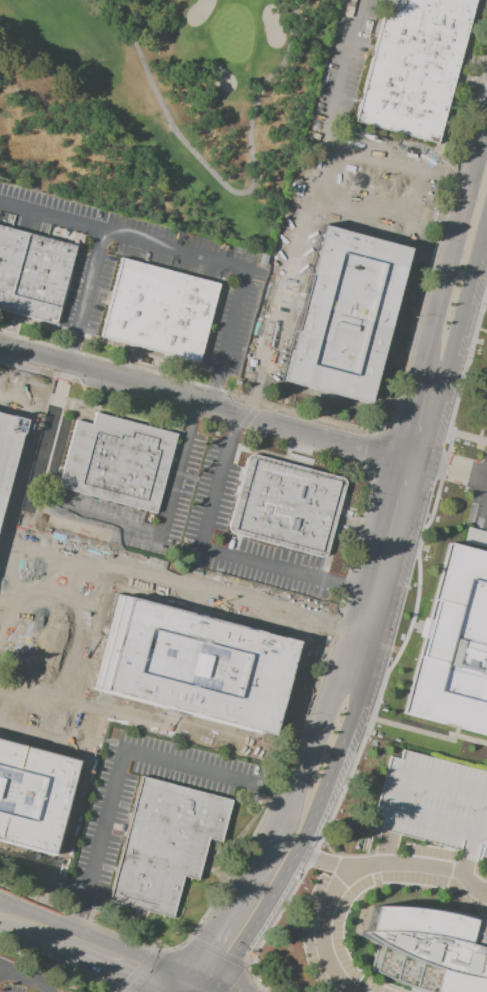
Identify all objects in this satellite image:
road: (419, 9)
road: (355, 11)
road: (449, 24)
road: (464, 54)
road: (391, 60)
building: (413, 66)
road: (380, 101)
park: (162, 106)
road: (368, 146)
road: (316, 172)
road: (228, 189)
road: (439, 232)
road: (191, 254)
building: (32, 274)
road: (458, 286)
building: (158, 310)
building: (345, 319)
road: (64, 366)
road: (205, 402)
building: (486, 424)
road: (418, 425)
road: (419, 427)
building: (486, 429)
building: (8, 447)
road: (375, 450)
building: (117, 463)
road: (461, 472)
road: (403, 487)
building: (285, 505)
road: (162, 535)
road: (220, 551)
road: (14, 554)
road: (78, 577)
building: (64, 590)
road: (224, 596)
road: (364, 639)
building: (454, 647)
building: (193, 665)
road: (310, 689)
road: (121, 752)
road: (449, 782)
building: (32, 793)
road: (311, 796)
building: (435, 803)
parking lot: (435, 803)
road: (435, 821)
building: (165, 844)
road: (385, 851)
road: (321, 861)
road: (426, 866)
road: (464, 869)
road: (246, 915)
road: (77, 917)
road: (322, 928)
road: (38, 930)
building: (428, 948)
road: (219, 952)
road: (55, 967)
road: (130, 969)
road: (134, 970)
road: (24, 979)
road: (257, 981)
road: (259, 991)

